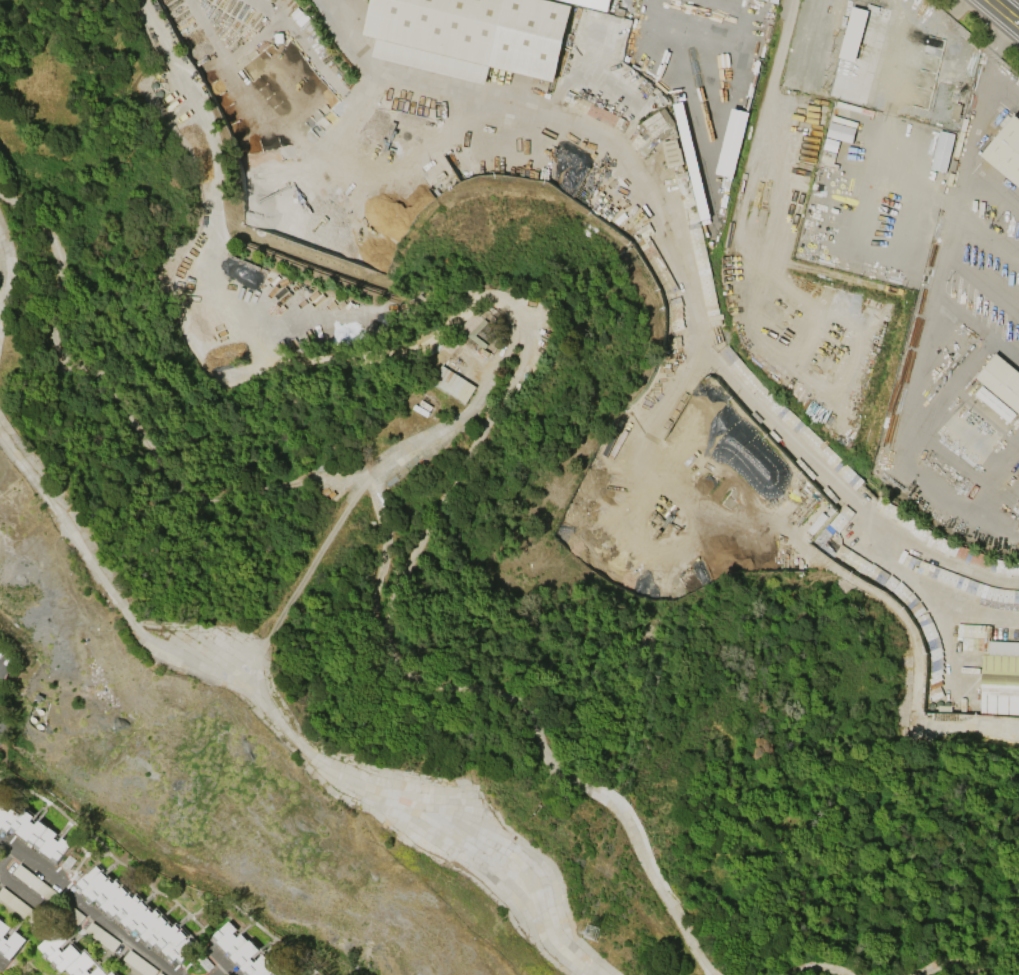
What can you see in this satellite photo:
building: (773, 0)
road: (737, 5)
road: (1004, 12)
road: (695, 23)
road: (1018, 23)
building: (470, 35)
road: (694, 42)
road: (311, 55)
road: (732, 78)
road: (372, 84)
road: (765, 112)
building: (841, 132)
building: (732, 143)
building: (1006, 151)
road: (708, 181)
road: (994, 188)
road: (988, 238)
road: (983, 283)
road: (977, 329)
road: (927, 332)
road: (701, 355)
building: (1002, 380)
building: (453, 384)
road: (986, 520)
building: (1016, 596)
building: (1000, 685)
building: (33, 831)
road: (4, 850)
road: (22, 887)
road: (89, 906)
building: (135, 914)
power tower: (591, 932)
building: (9, 942)
building: (247, 953)
building: (68, 956)
road: (1, 960)
road: (226, 961)
road: (221, 969)
building: (112, 974)

